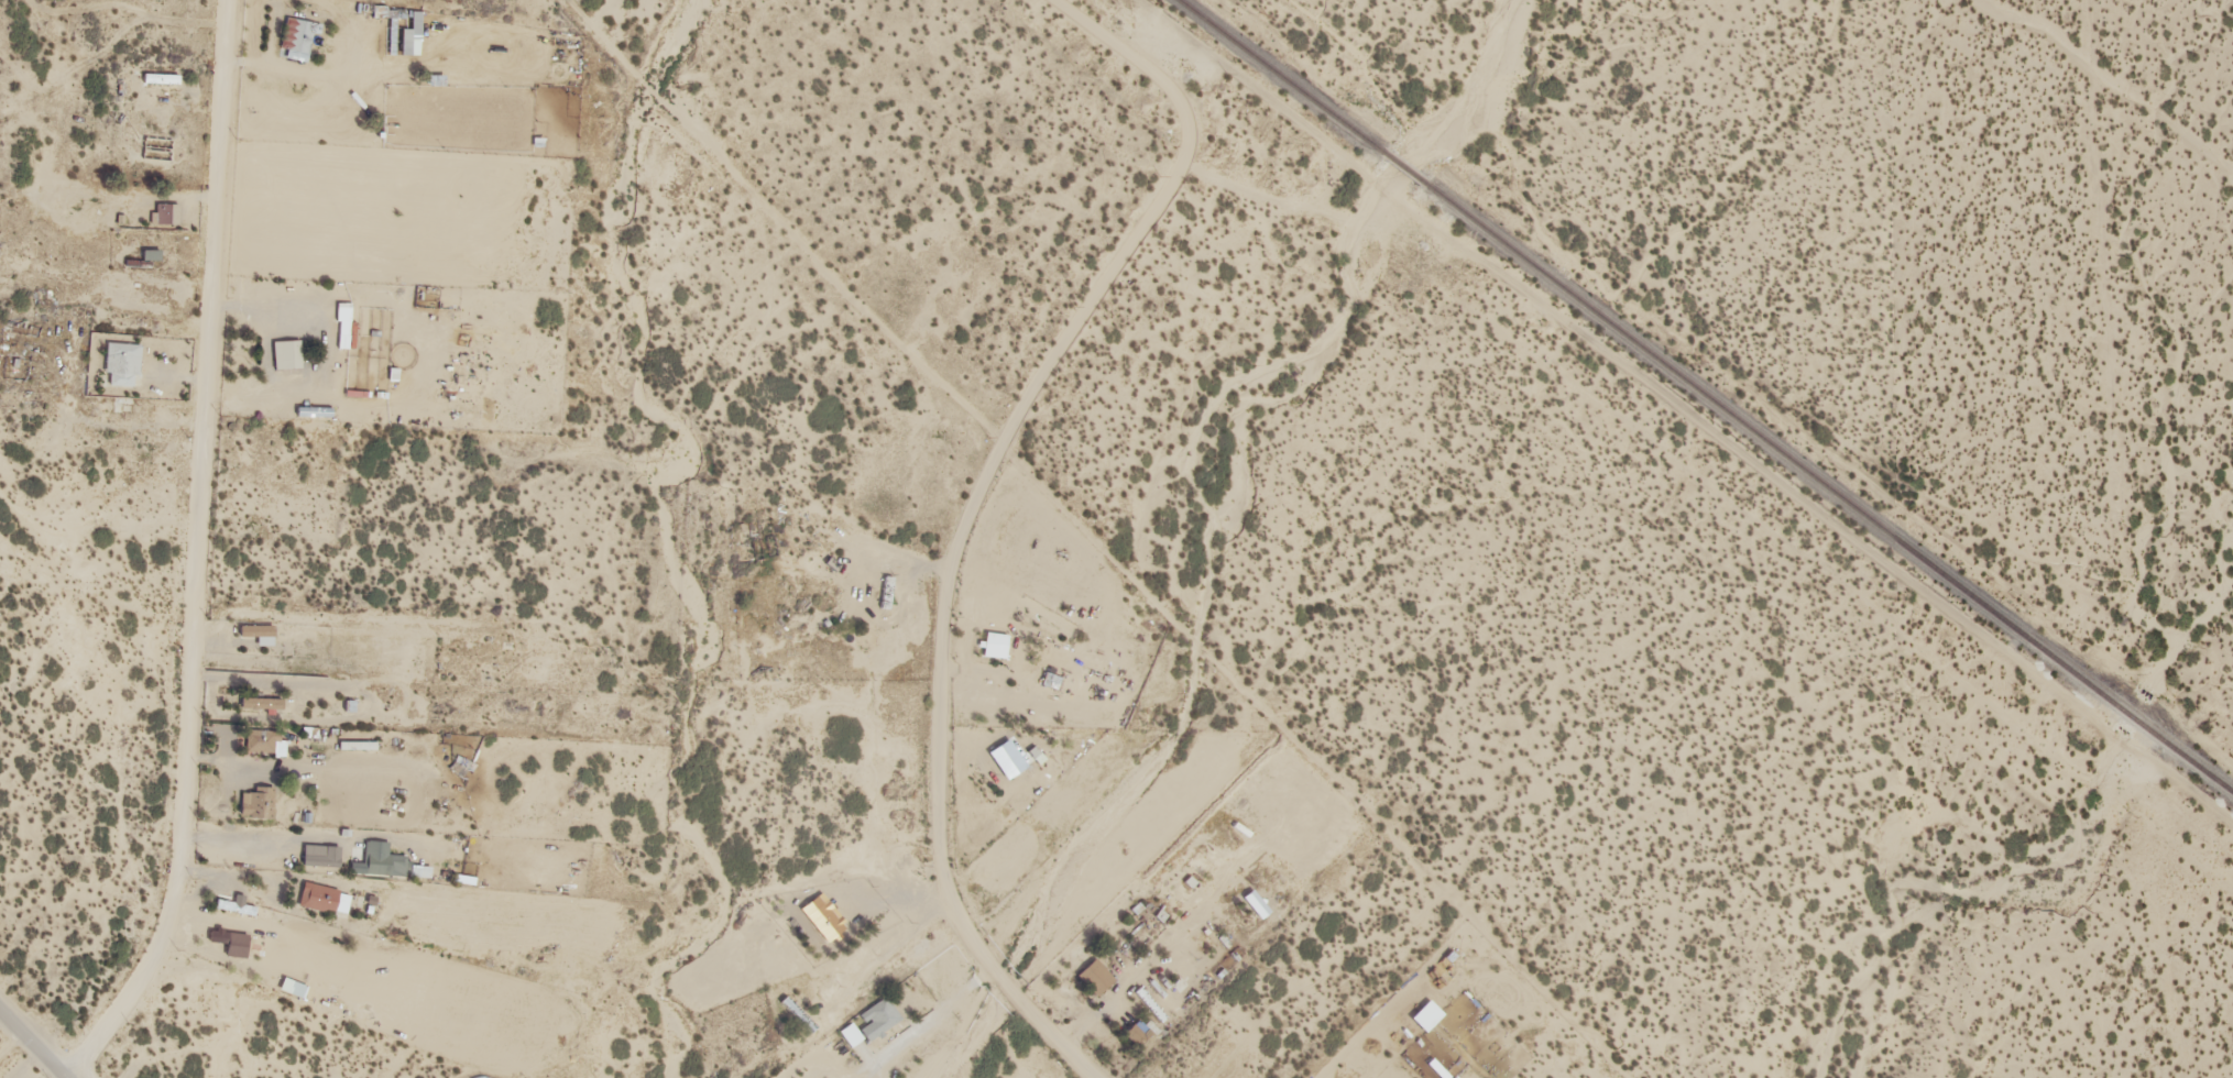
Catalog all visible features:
building: (297, 34)
road: (1127, 73)
building: (165, 213)
building: (343, 328)
building: (289, 353)
building: (123, 362)
railway: (1706, 396)
railway: (1609, 483)
road: (194, 558)
road: (937, 619)
building: (259, 629)
building: (995, 641)
building: (259, 701)
building: (263, 743)
building: (357, 747)
building: (255, 803)
building: (381, 858)
building: (322, 859)
building: (324, 898)
building: (236, 906)
building: (228, 936)
building: (871, 1021)
road: (29, 1047)

